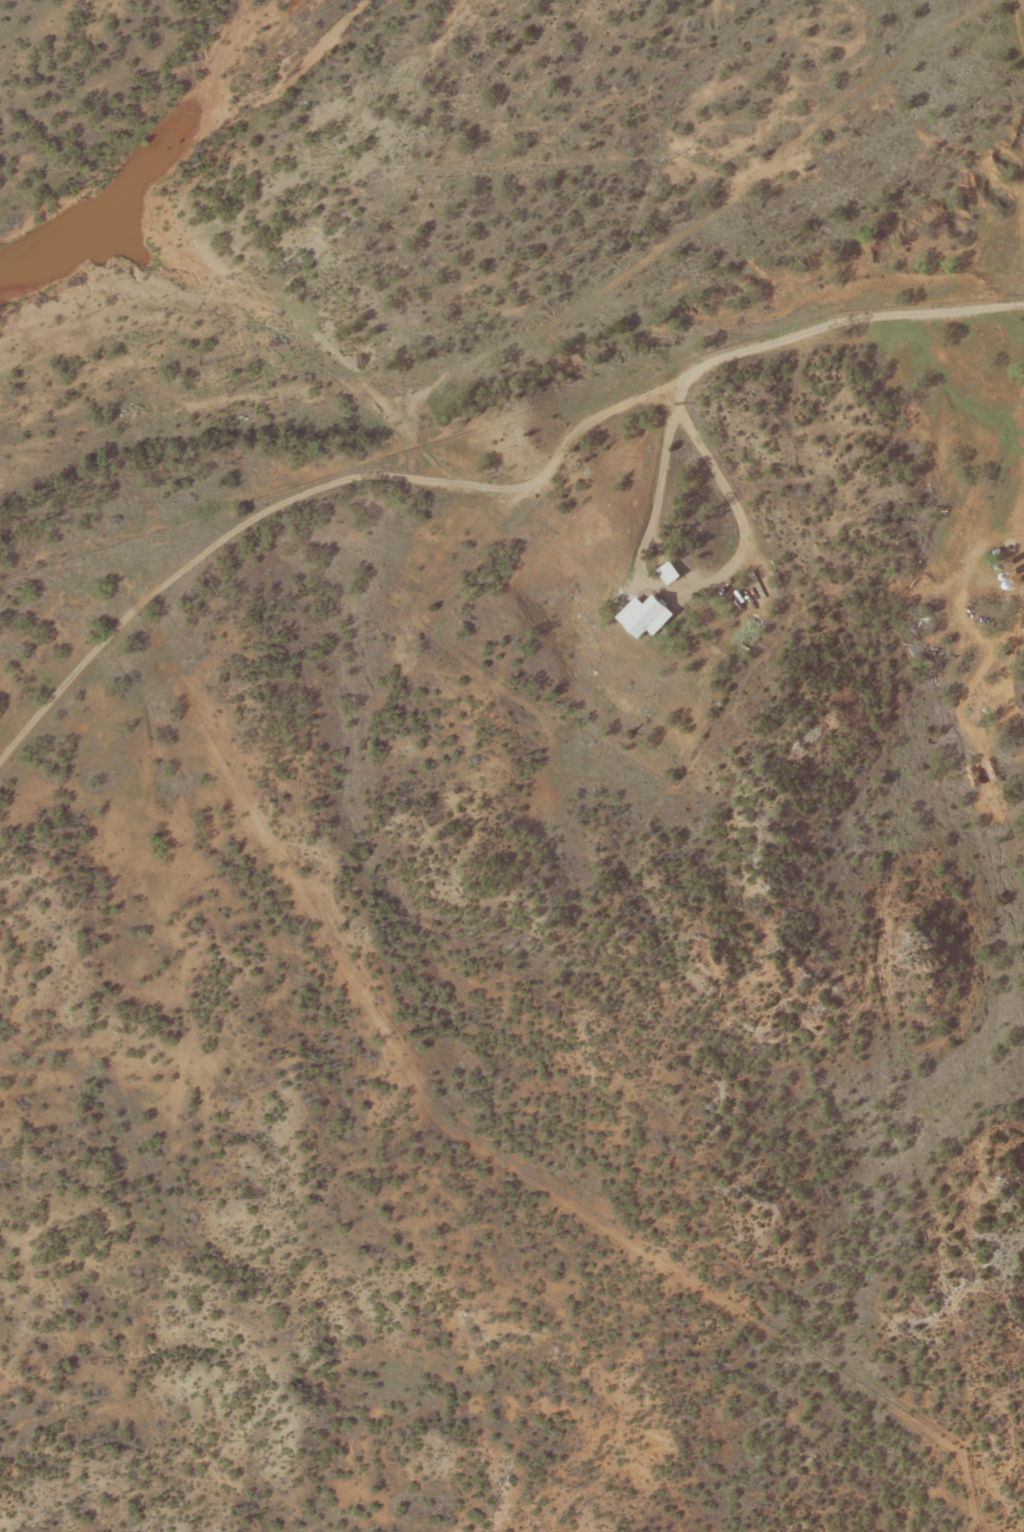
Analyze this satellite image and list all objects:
building: (672, 572)
building: (649, 615)

